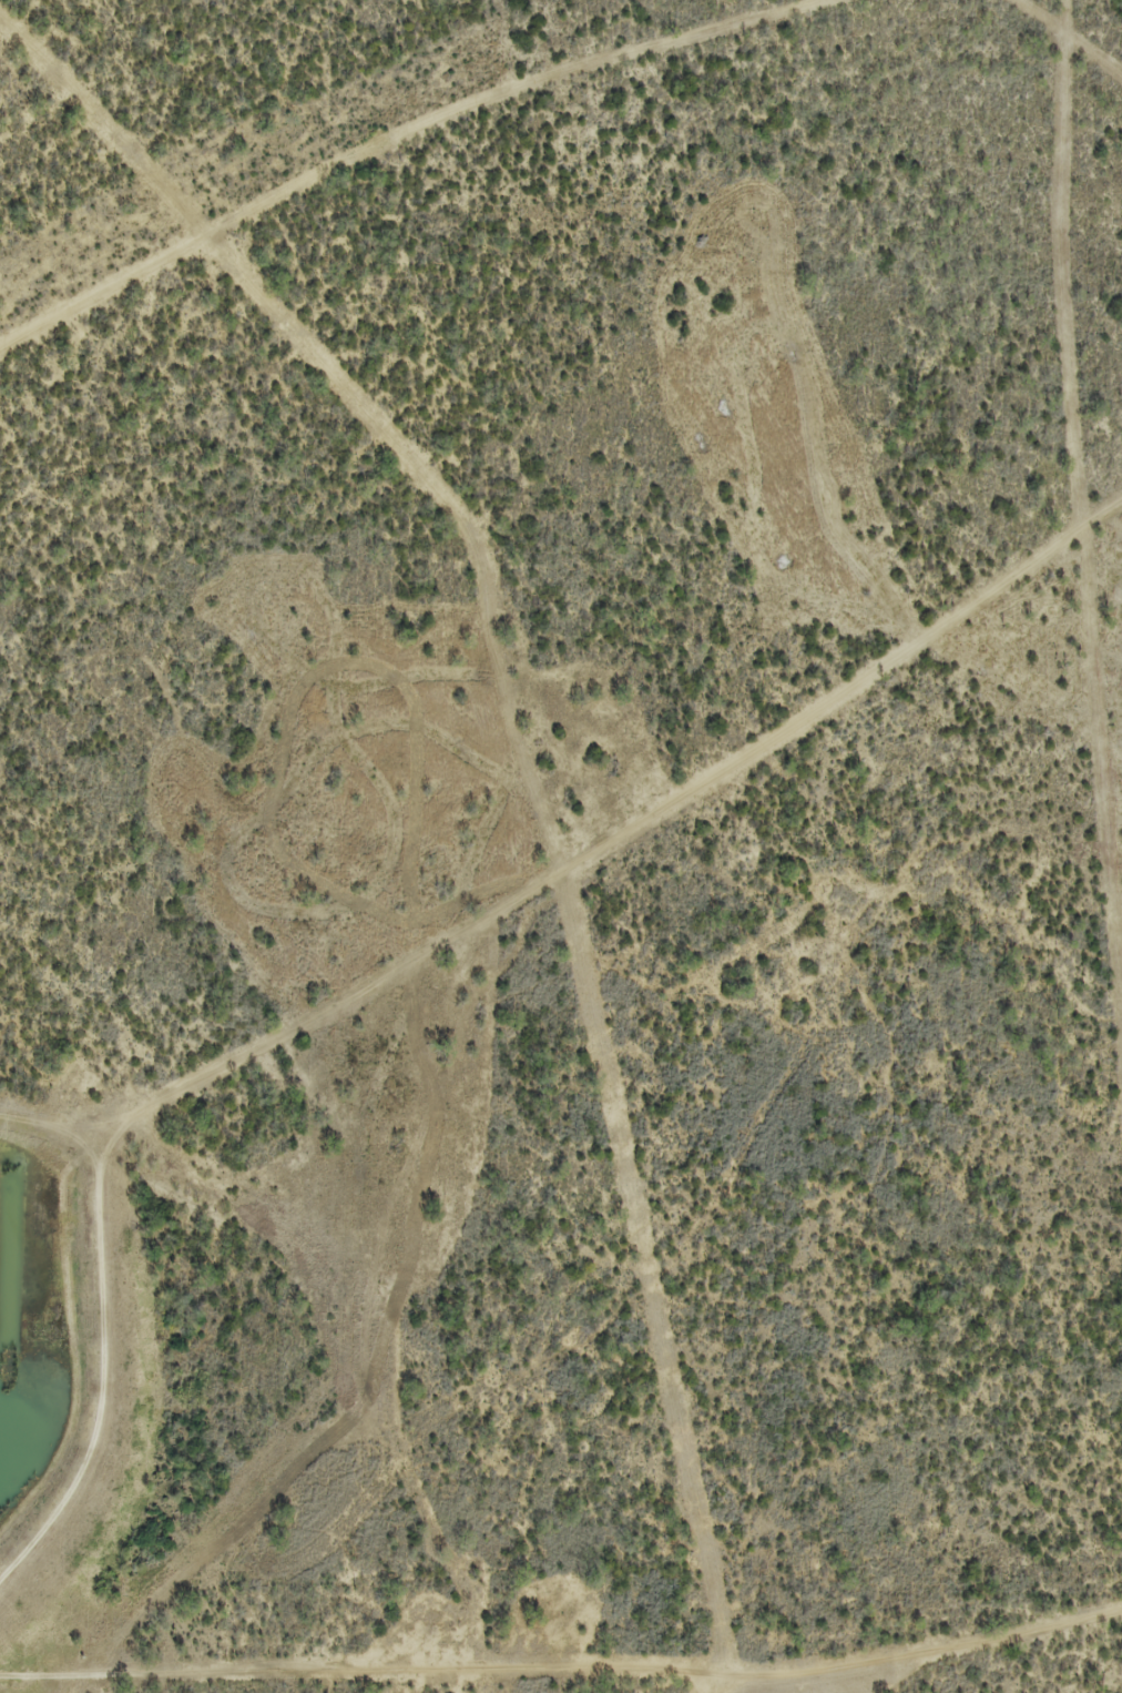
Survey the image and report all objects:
dam: (111, 1379)
road: (951, 1656)

